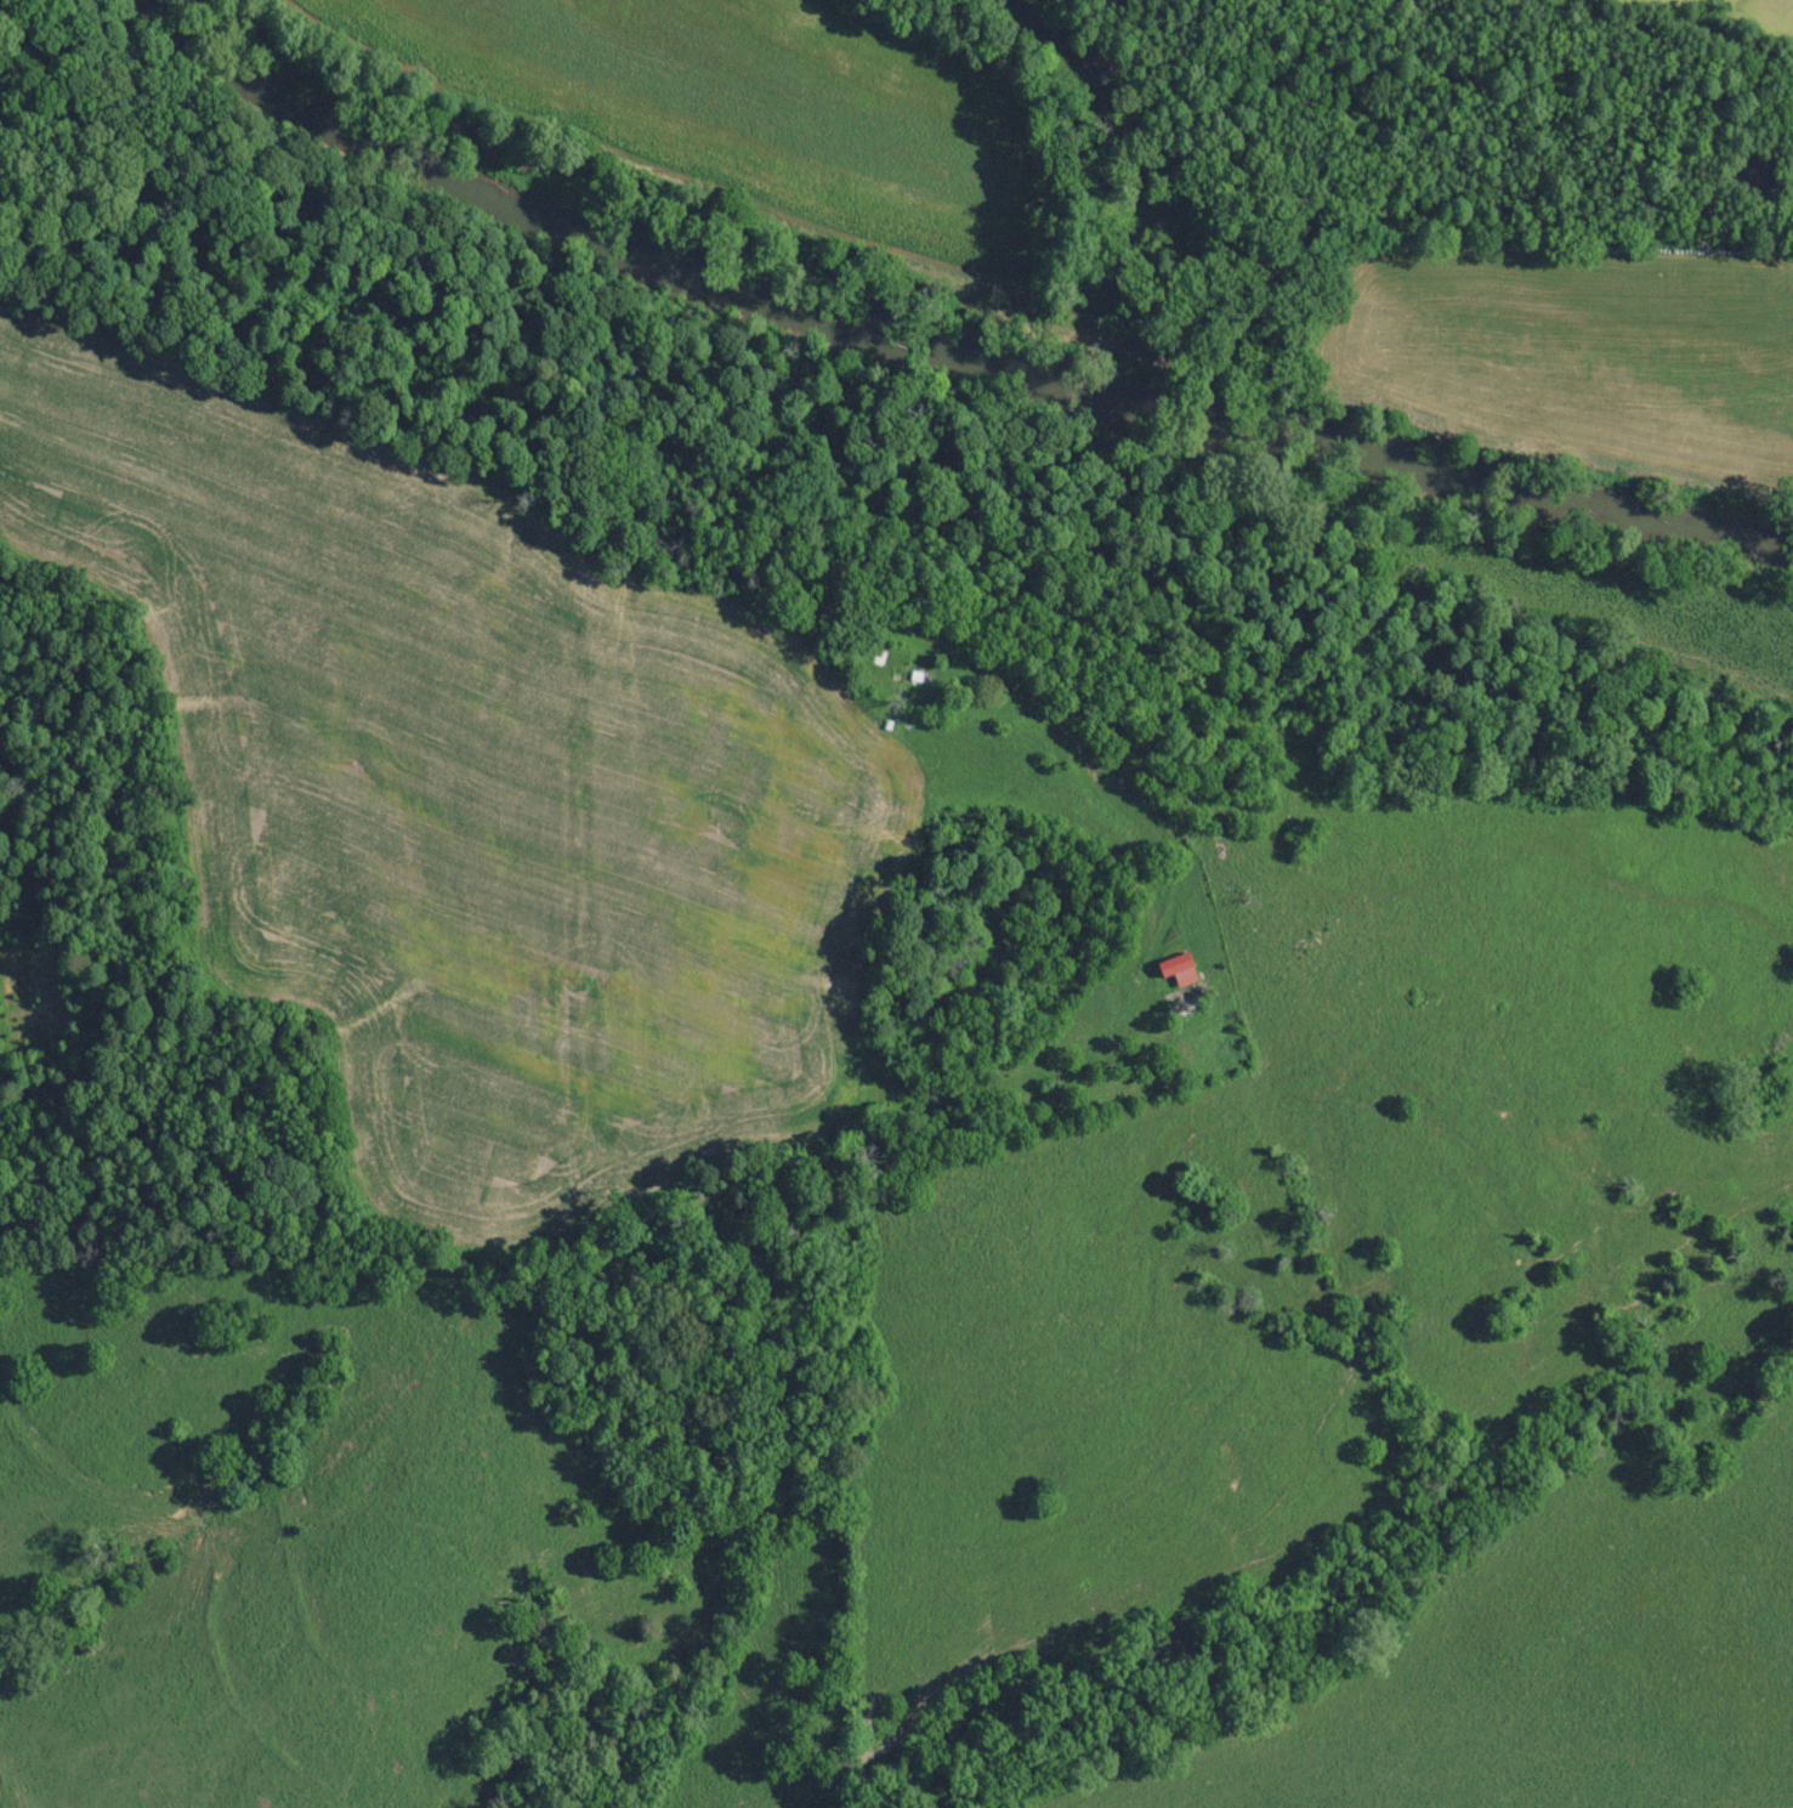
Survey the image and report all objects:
building: (902, 673)

